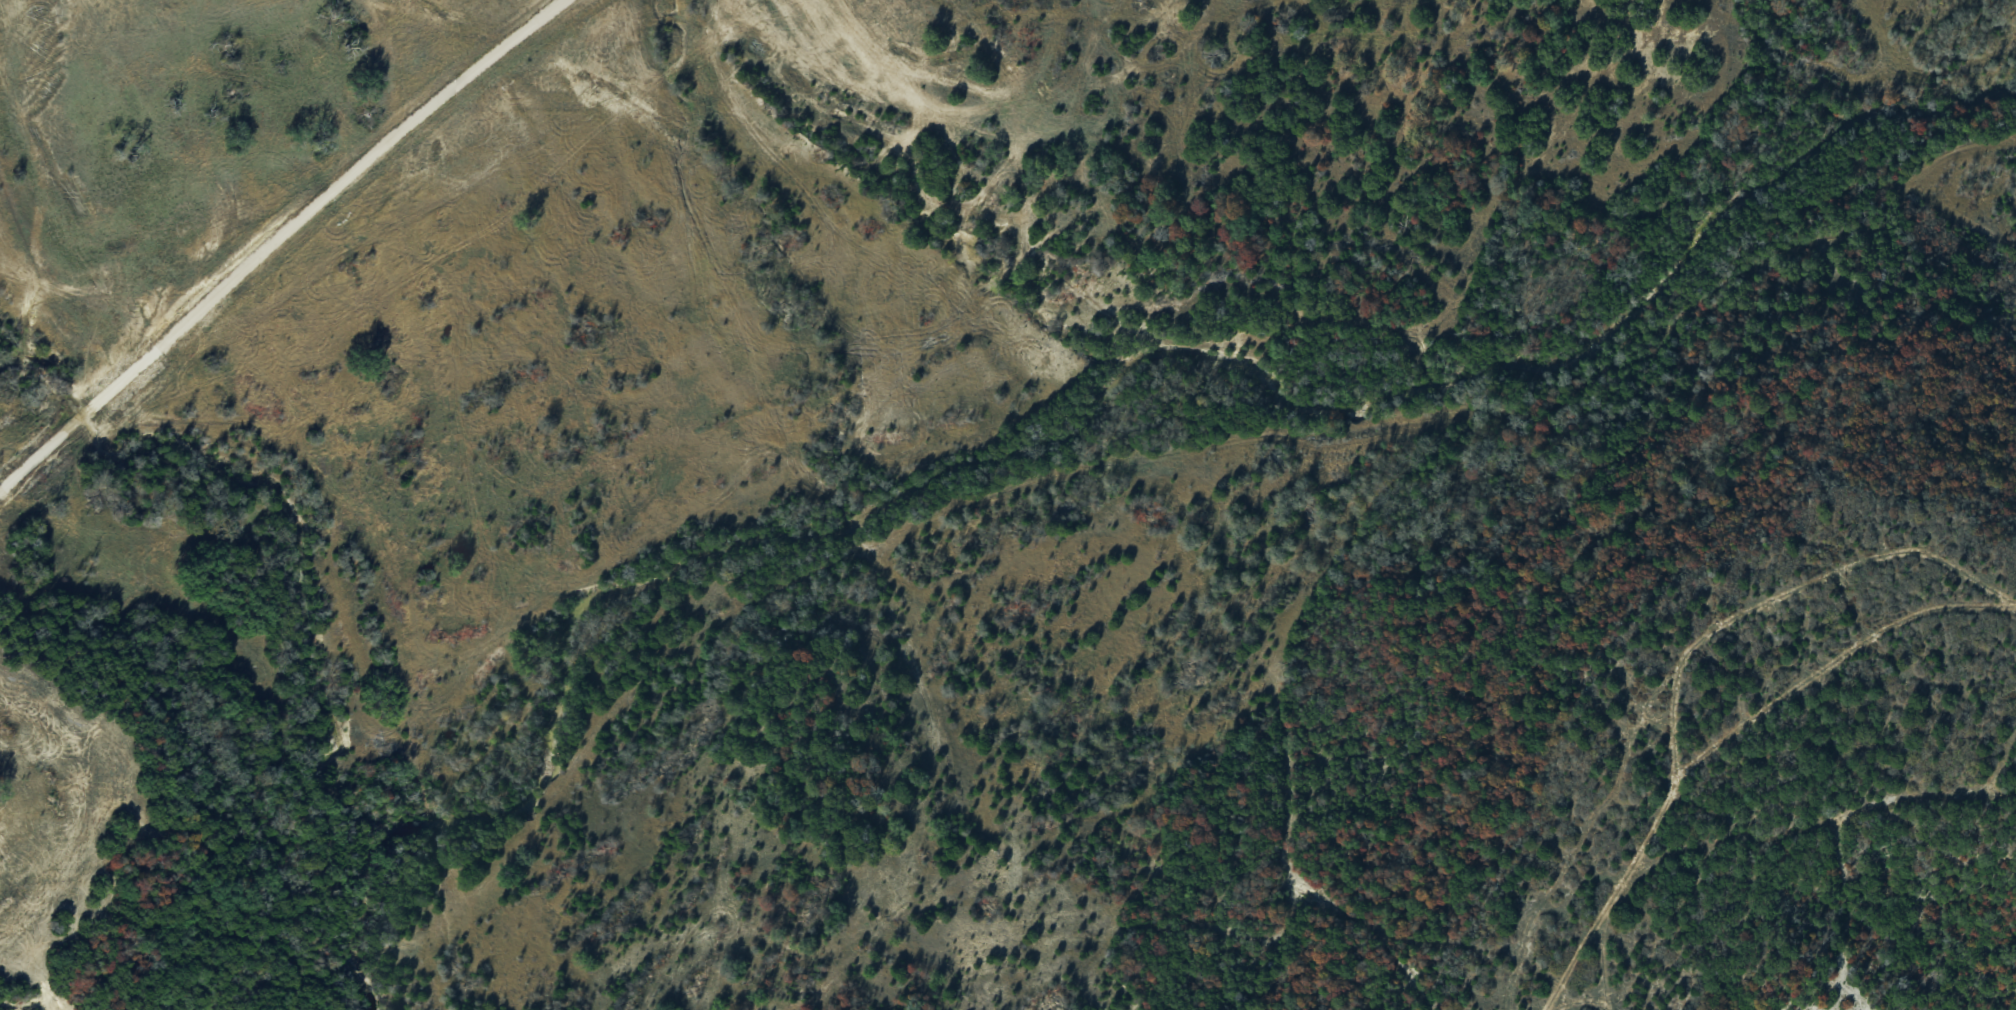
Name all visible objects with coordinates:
road: (277, 239)

